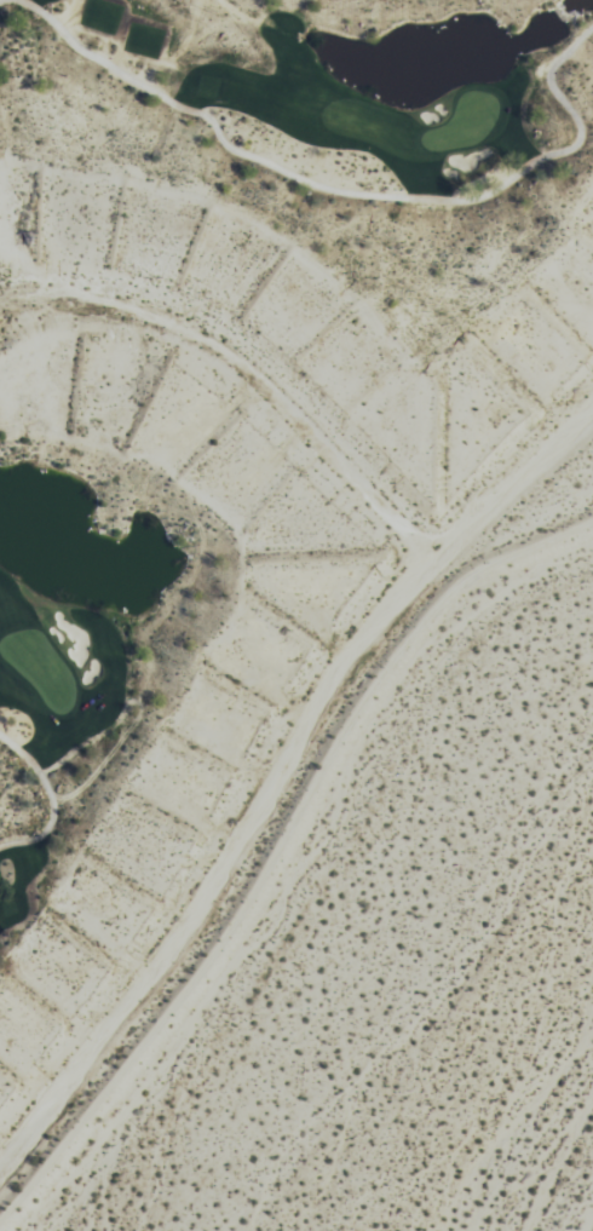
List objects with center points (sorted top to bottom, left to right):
park: (334, 121)
park: (461, 131)
park: (38, 674)
park: (58, 724)
road: (51, 799)

